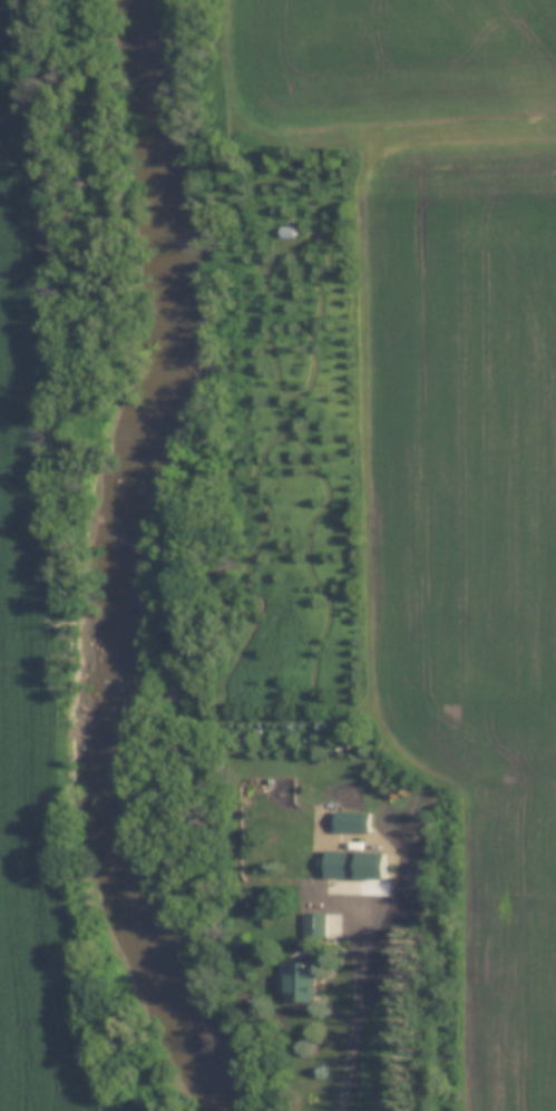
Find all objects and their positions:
building: (284, 233)
river: (146, 561)
building: (350, 822)
building: (340, 873)
building: (312, 925)
building: (294, 982)
road: (359, 1001)

